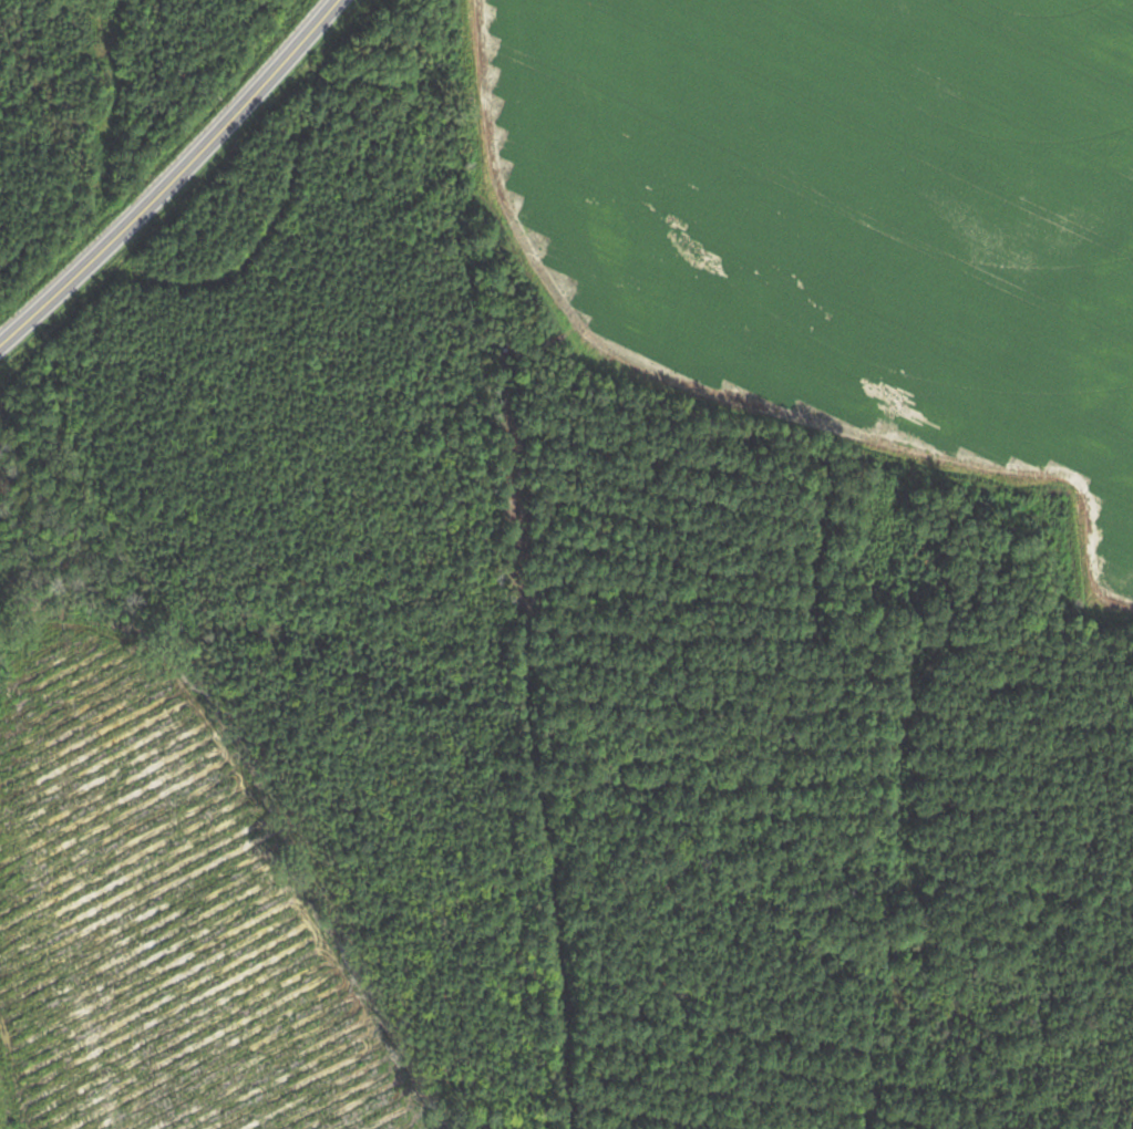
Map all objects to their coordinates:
road: (174, 176)

